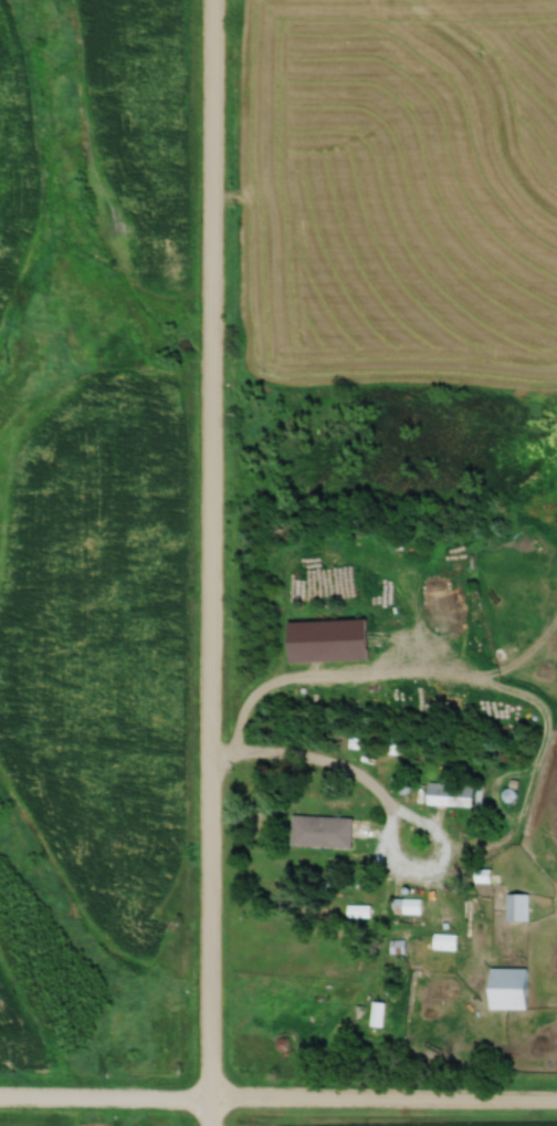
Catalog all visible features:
road: (209, 563)
building: (332, 640)
building: (324, 831)
road: (389, 869)
building: (407, 907)
building: (518, 907)
building: (445, 941)
building: (511, 988)
building: (379, 1014)
road: (277, 1093)

